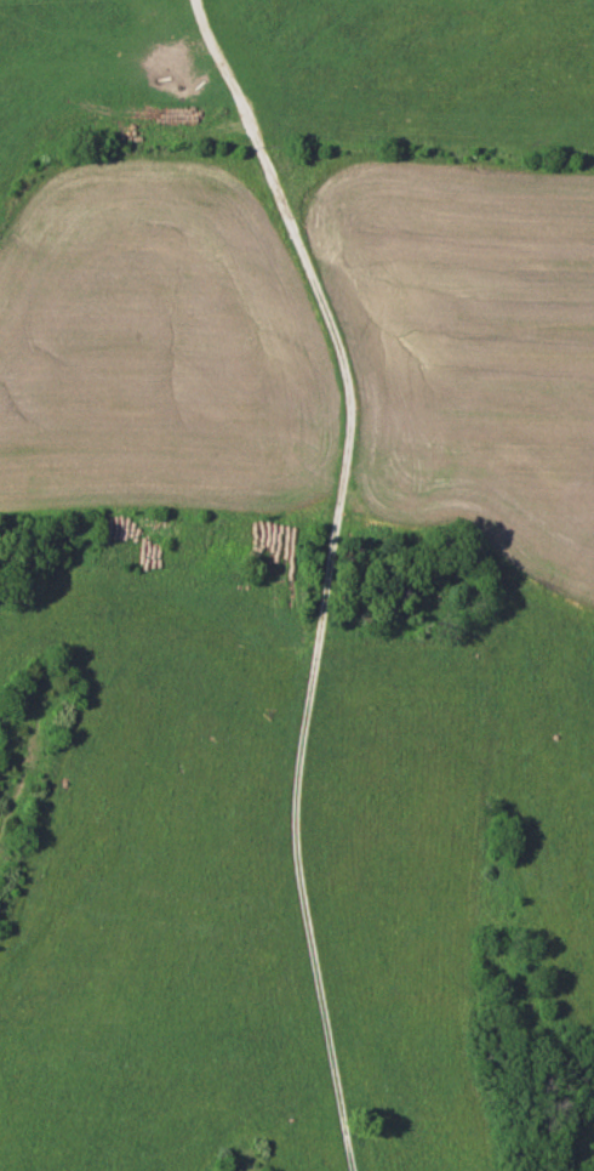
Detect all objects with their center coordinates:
road: (329, 573)

